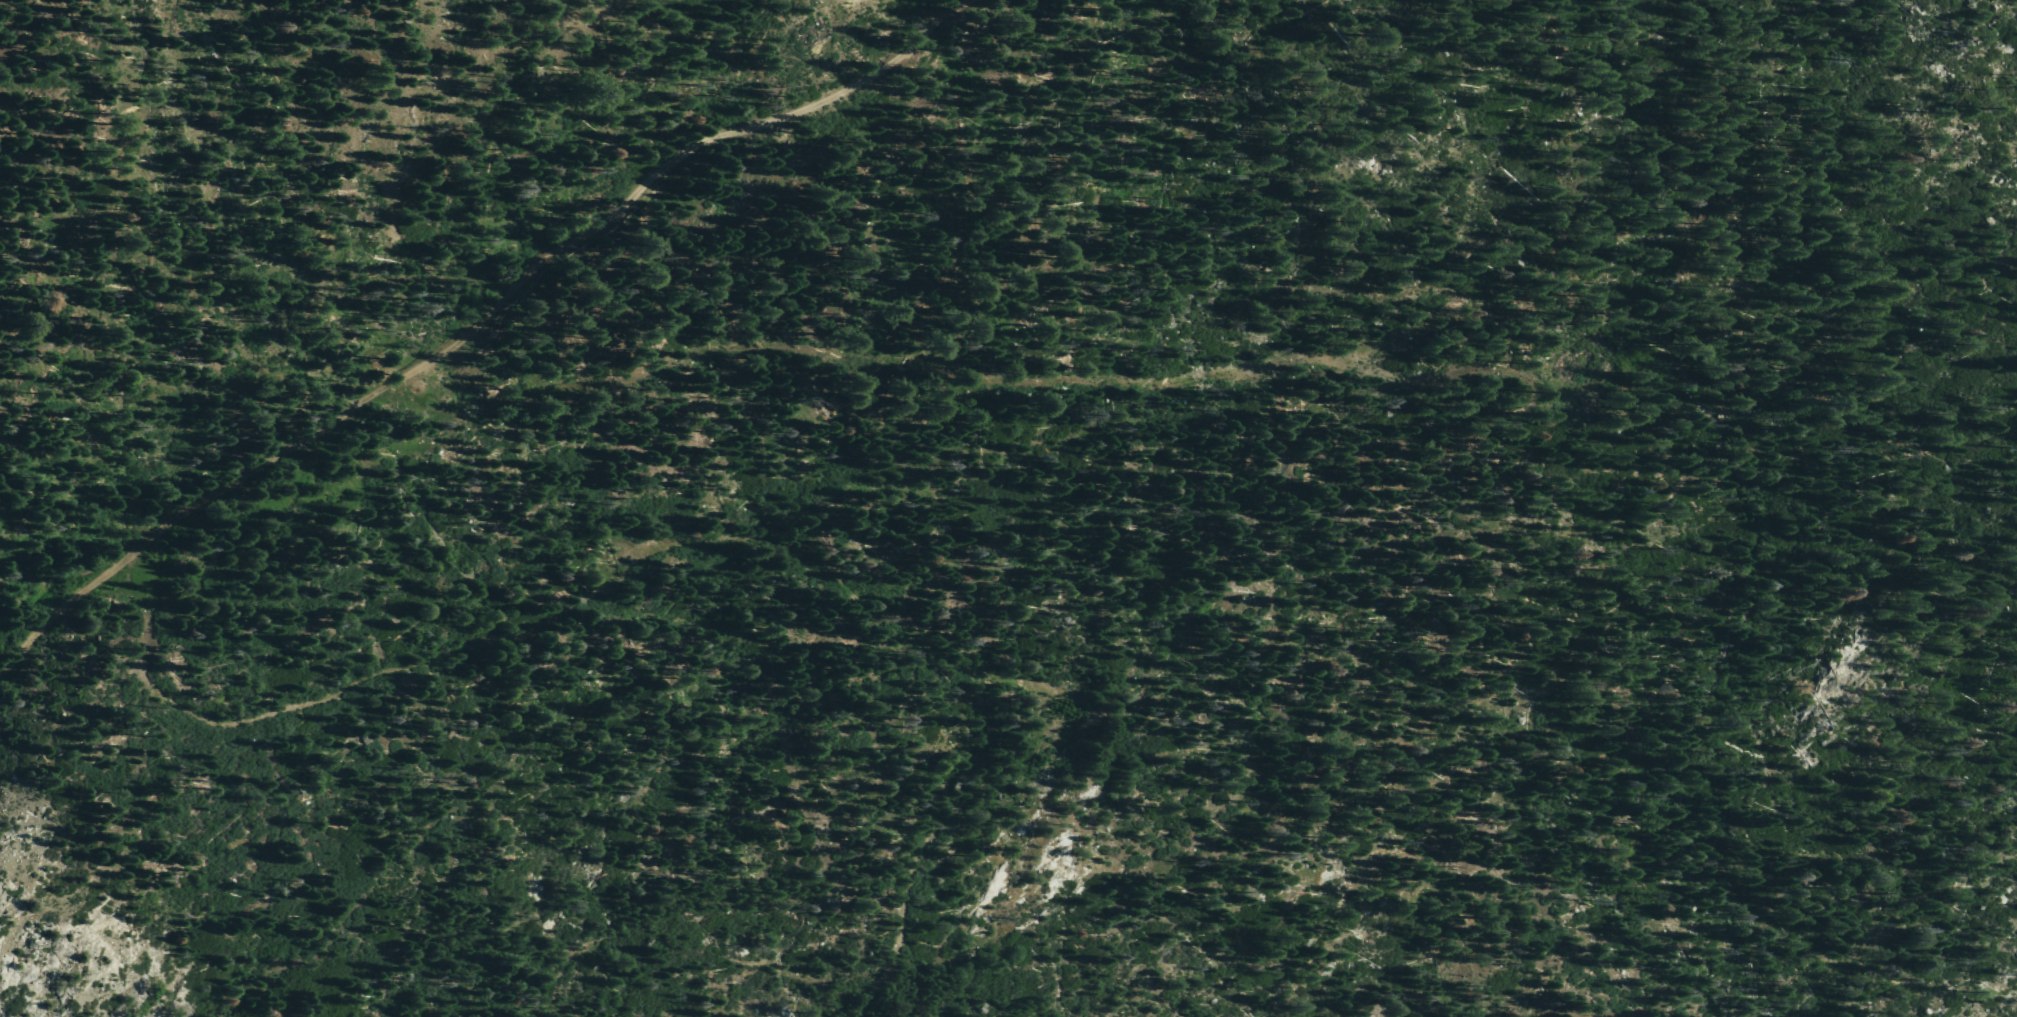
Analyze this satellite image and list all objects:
road: (446, 286)

